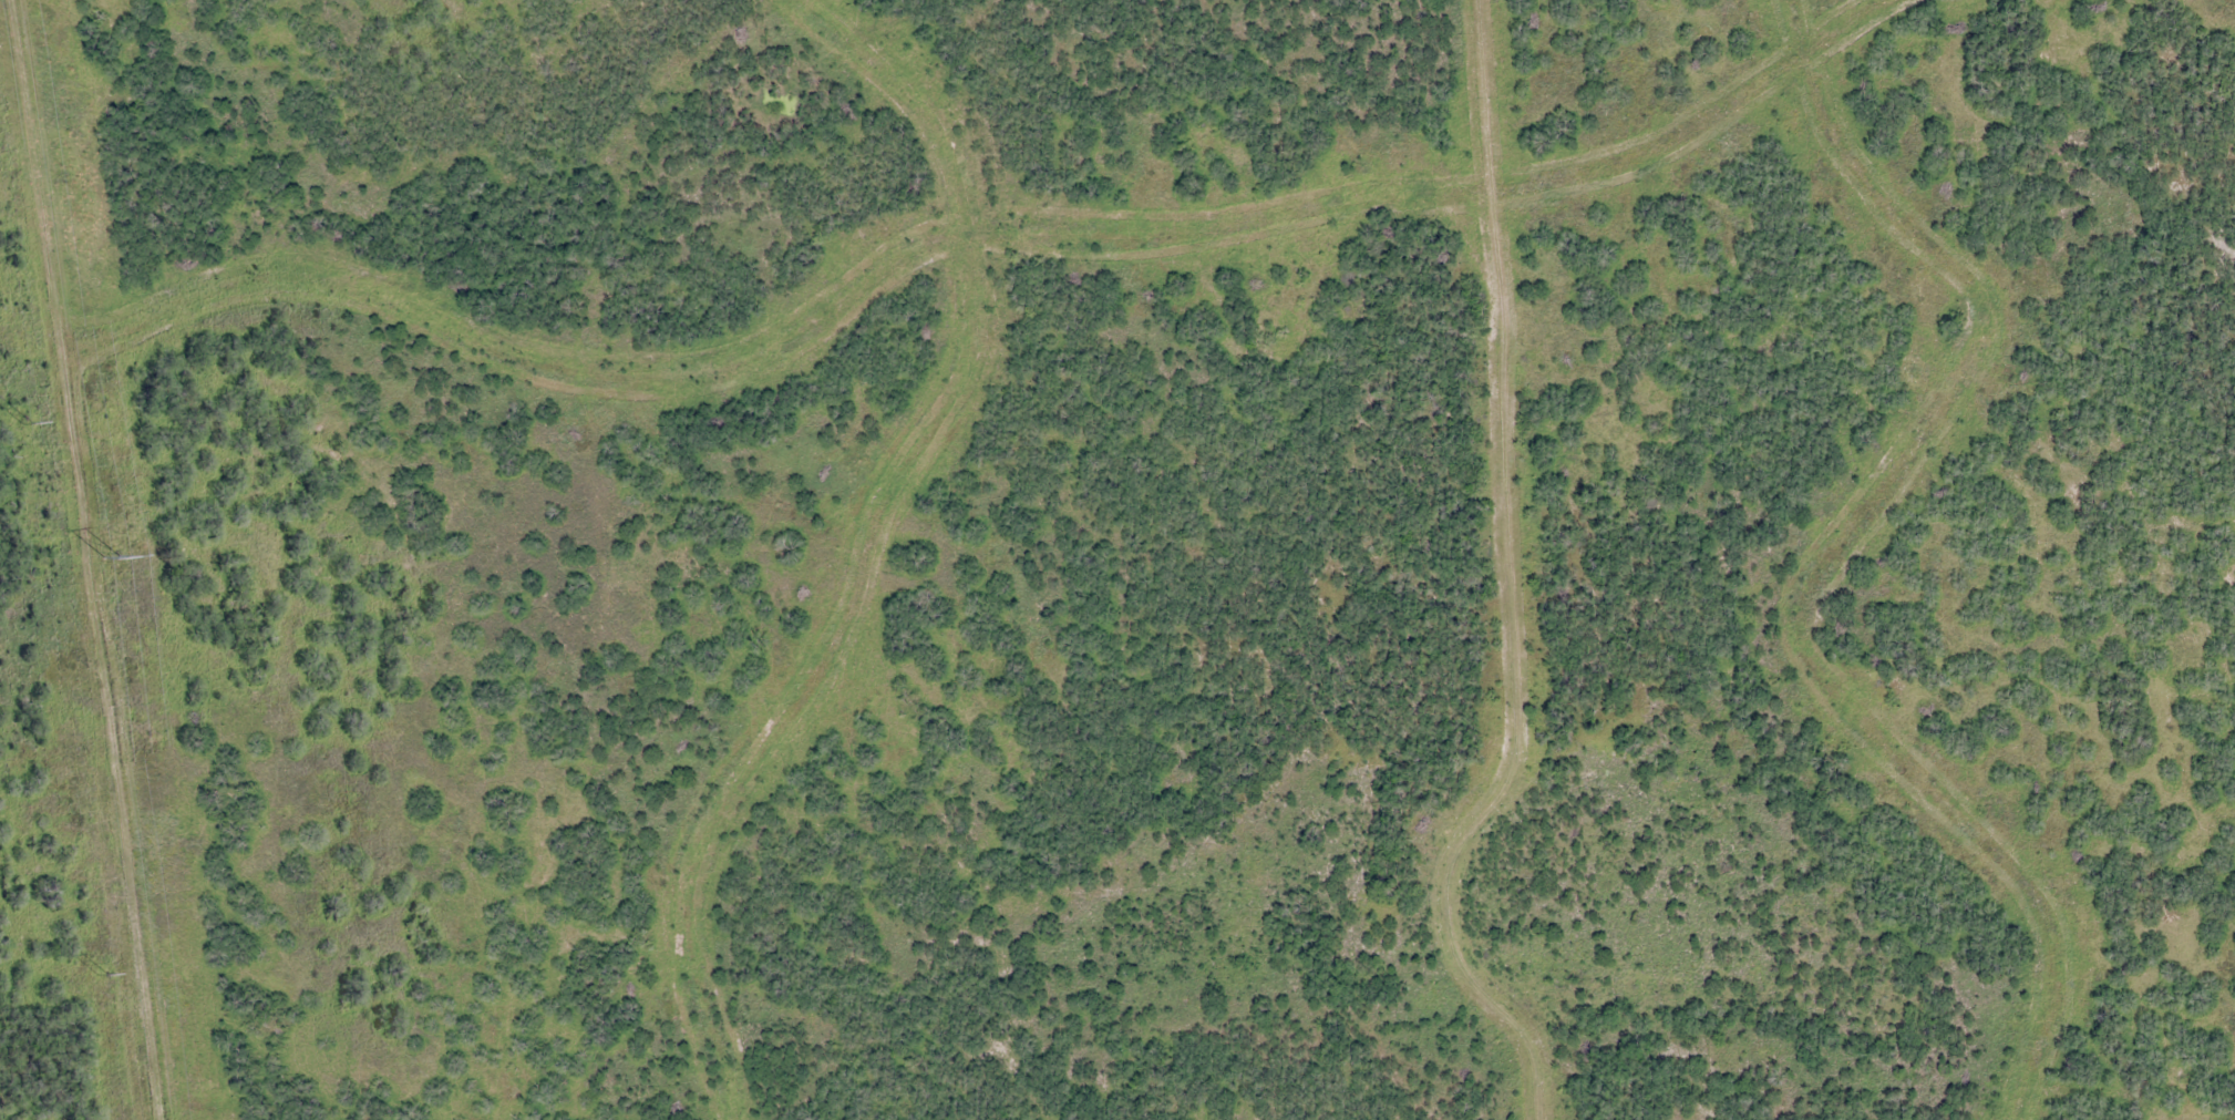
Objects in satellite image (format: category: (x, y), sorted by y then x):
power tower: (24, 424)
power tower: (111, 557)
road: (1460, 559)
power tower: (102, 974)

